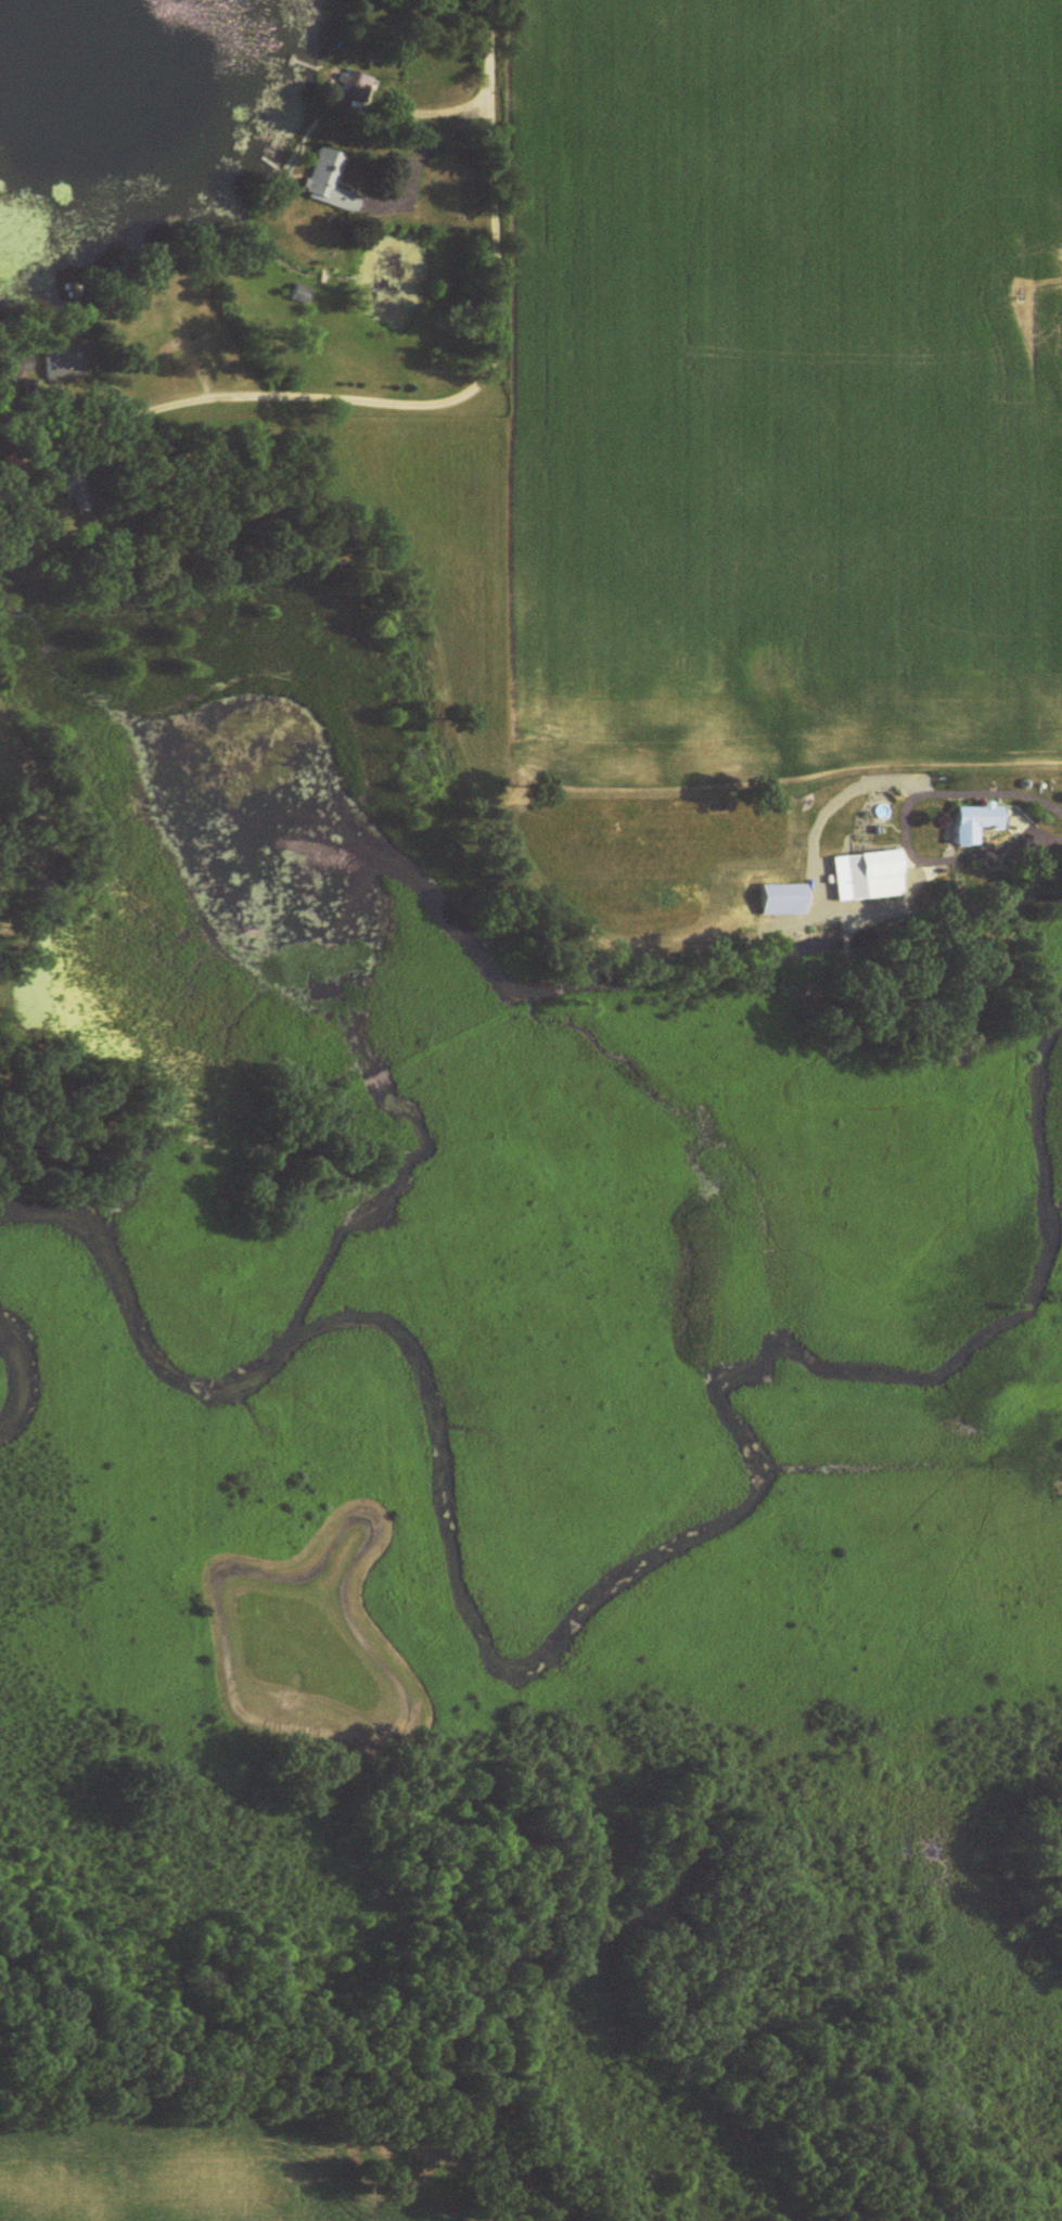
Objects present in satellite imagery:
building: (330, 180)
building: (71, 362)
road: (469, 369)
building: (963, 822)
building: (859, 877)
building: (776, 901)

